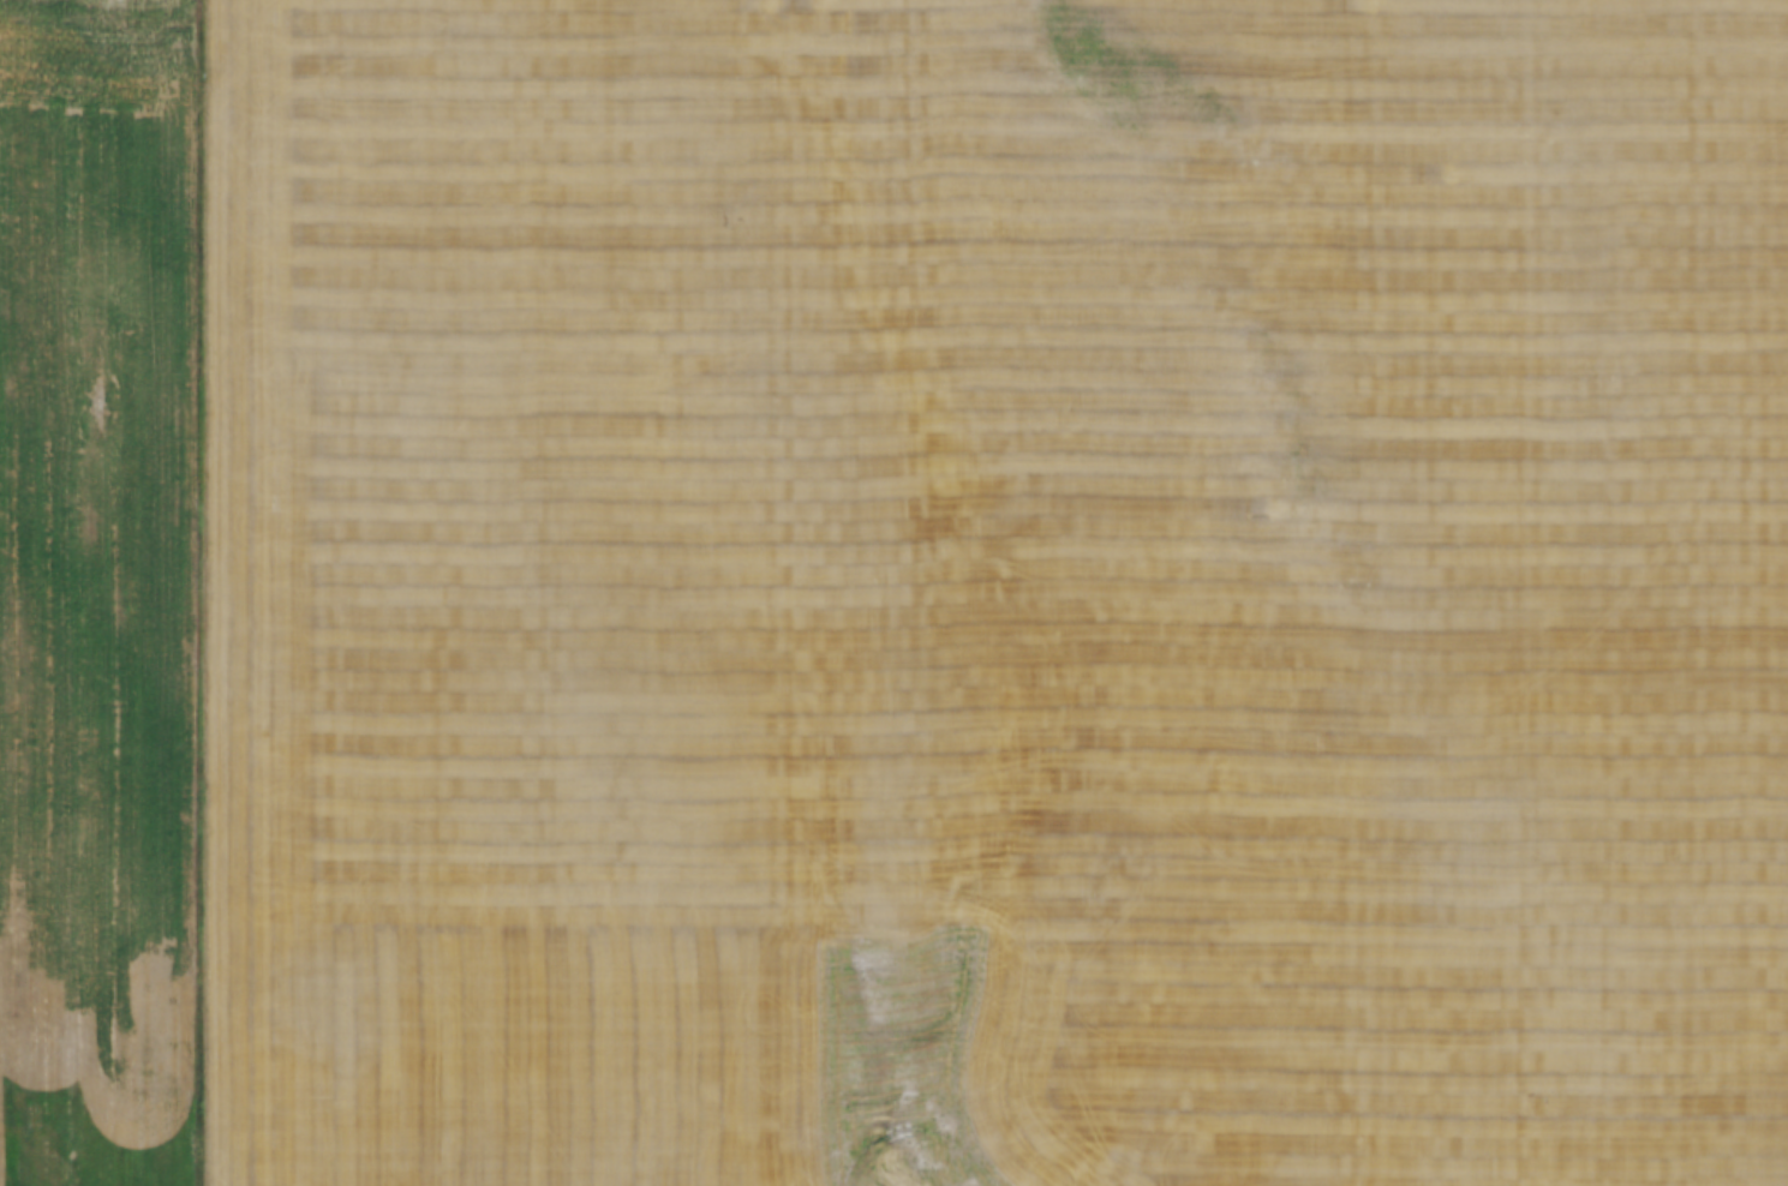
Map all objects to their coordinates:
road: (1365, 593)

